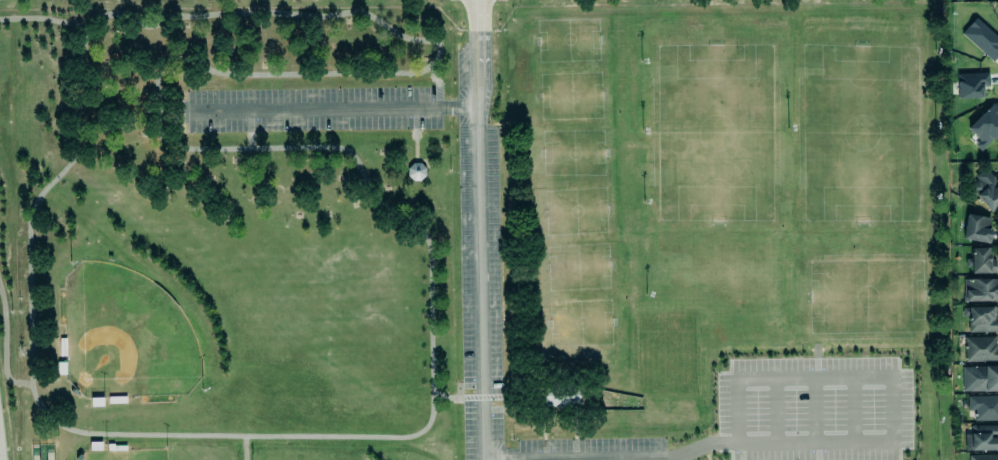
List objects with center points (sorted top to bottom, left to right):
building: (981, 36)
park: (561, 69)
road: (436, 79)
building: (971, 85)
parking lot: (313, 110)
road: (334, 111)
park: (863, 119)
park: (718, 122)
building: (985, 127)
road: (414, 146)
building: (416, 171)
park: (565, 185)
building: (986, 187)
building: (976, 227)
road: (482, 229)
park: (481, 230)
building: (980, 259)
park: (711, 267)
park: (863, 286)
building: (980, 288)
parking lot: (482, 295)
park: (578, 302)
building: (981, 317)
park: (126, 337)
building: (980, 348)
park: (705, 362)
building: (979, 378)
road: (433, 379)
road: (894, 392)
building: (560, 396)
road: (484, 401)
park: (864, 406)
building: (983, 406)
building: (981, 436)
road: (247, 449)
parking lot: (630, 450)
park: (130, 456)
road: (670, 457)
building: (983, 457)

